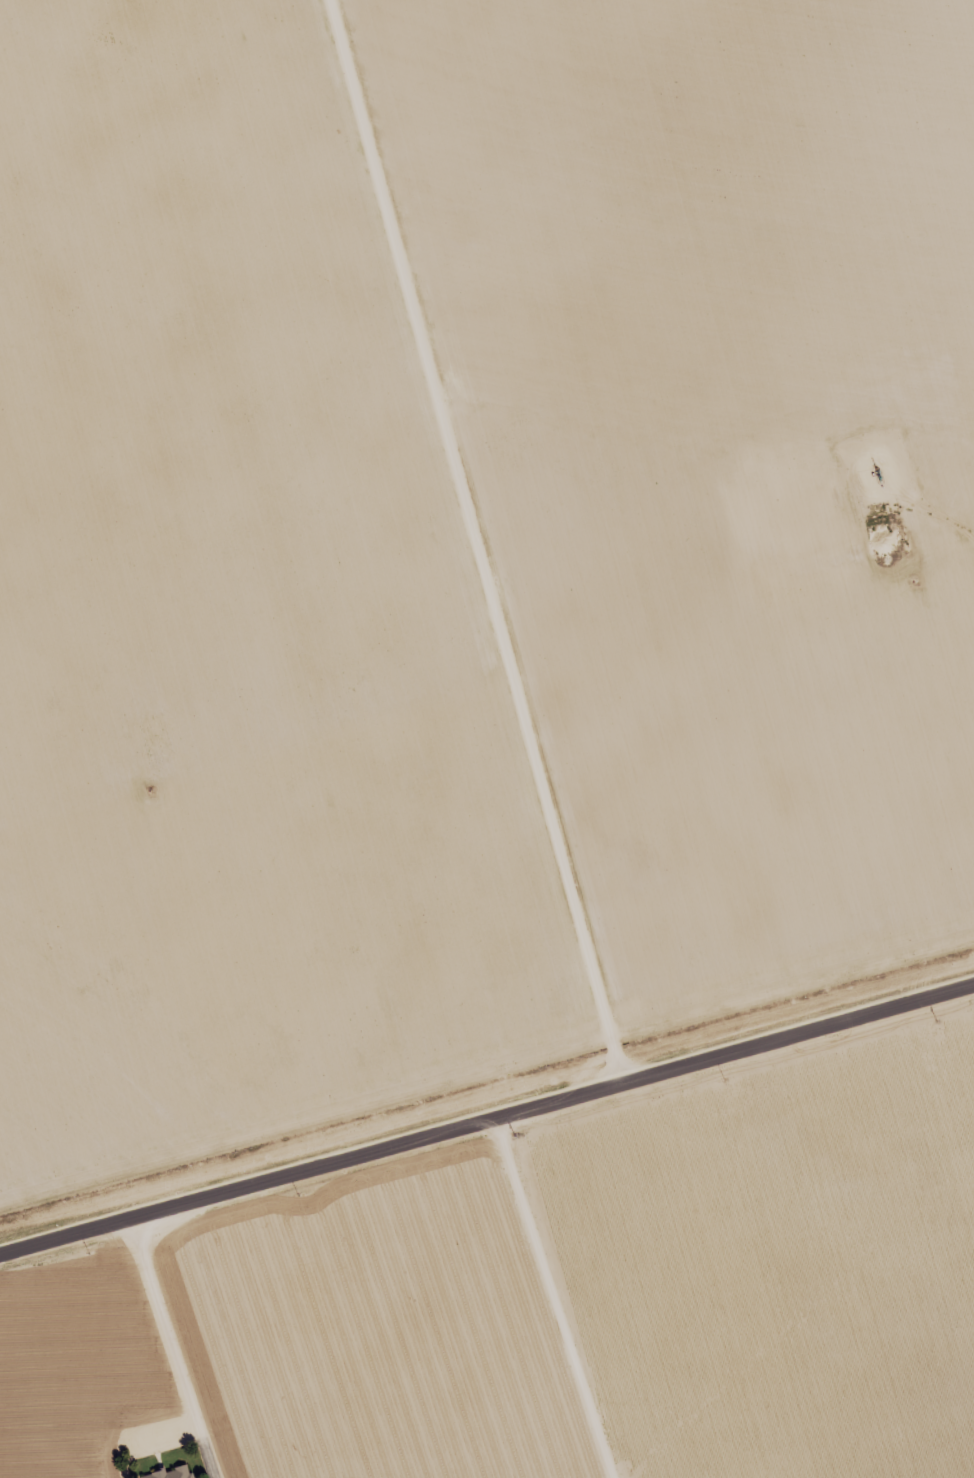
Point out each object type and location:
road: (463, 539)
road: (483, 1113)

